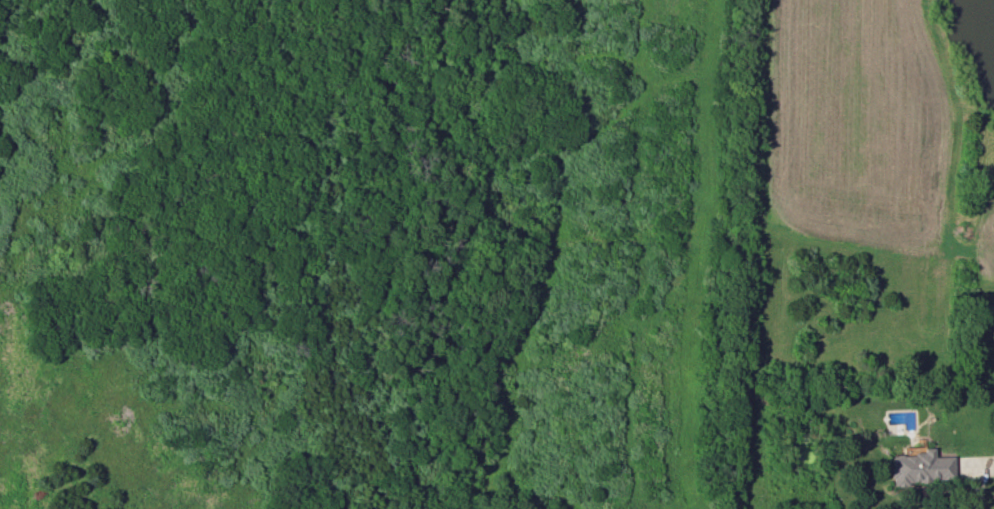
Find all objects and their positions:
crop: (860, 121)
crop: (989, 236)
park: (372, 254)
road: (975, 489)

